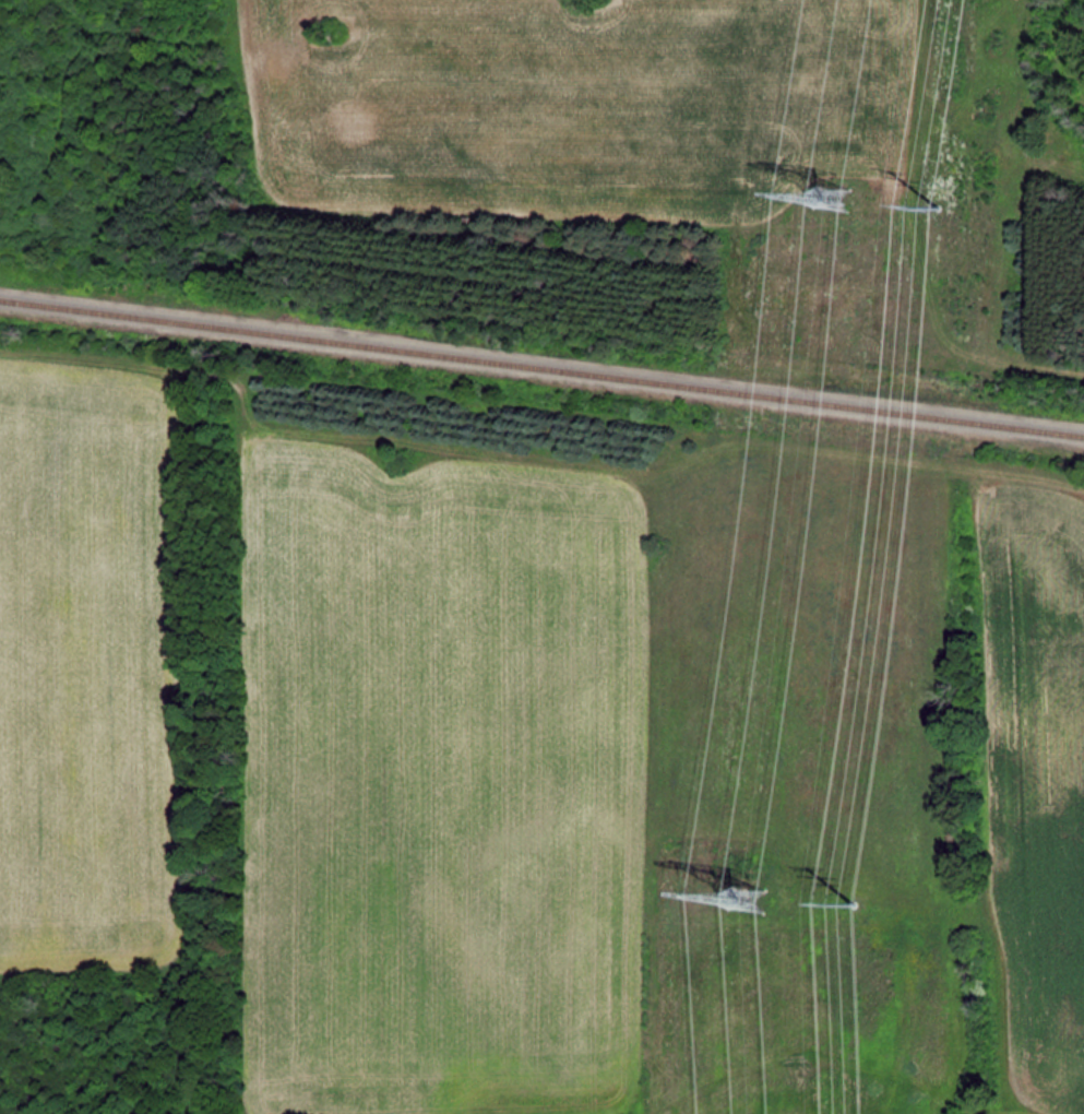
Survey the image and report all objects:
power tower: (927, 192)
power tower: (830, 201)
railway: (541, 364)
power tower: (739, 899)
power tower: (858, 901)

